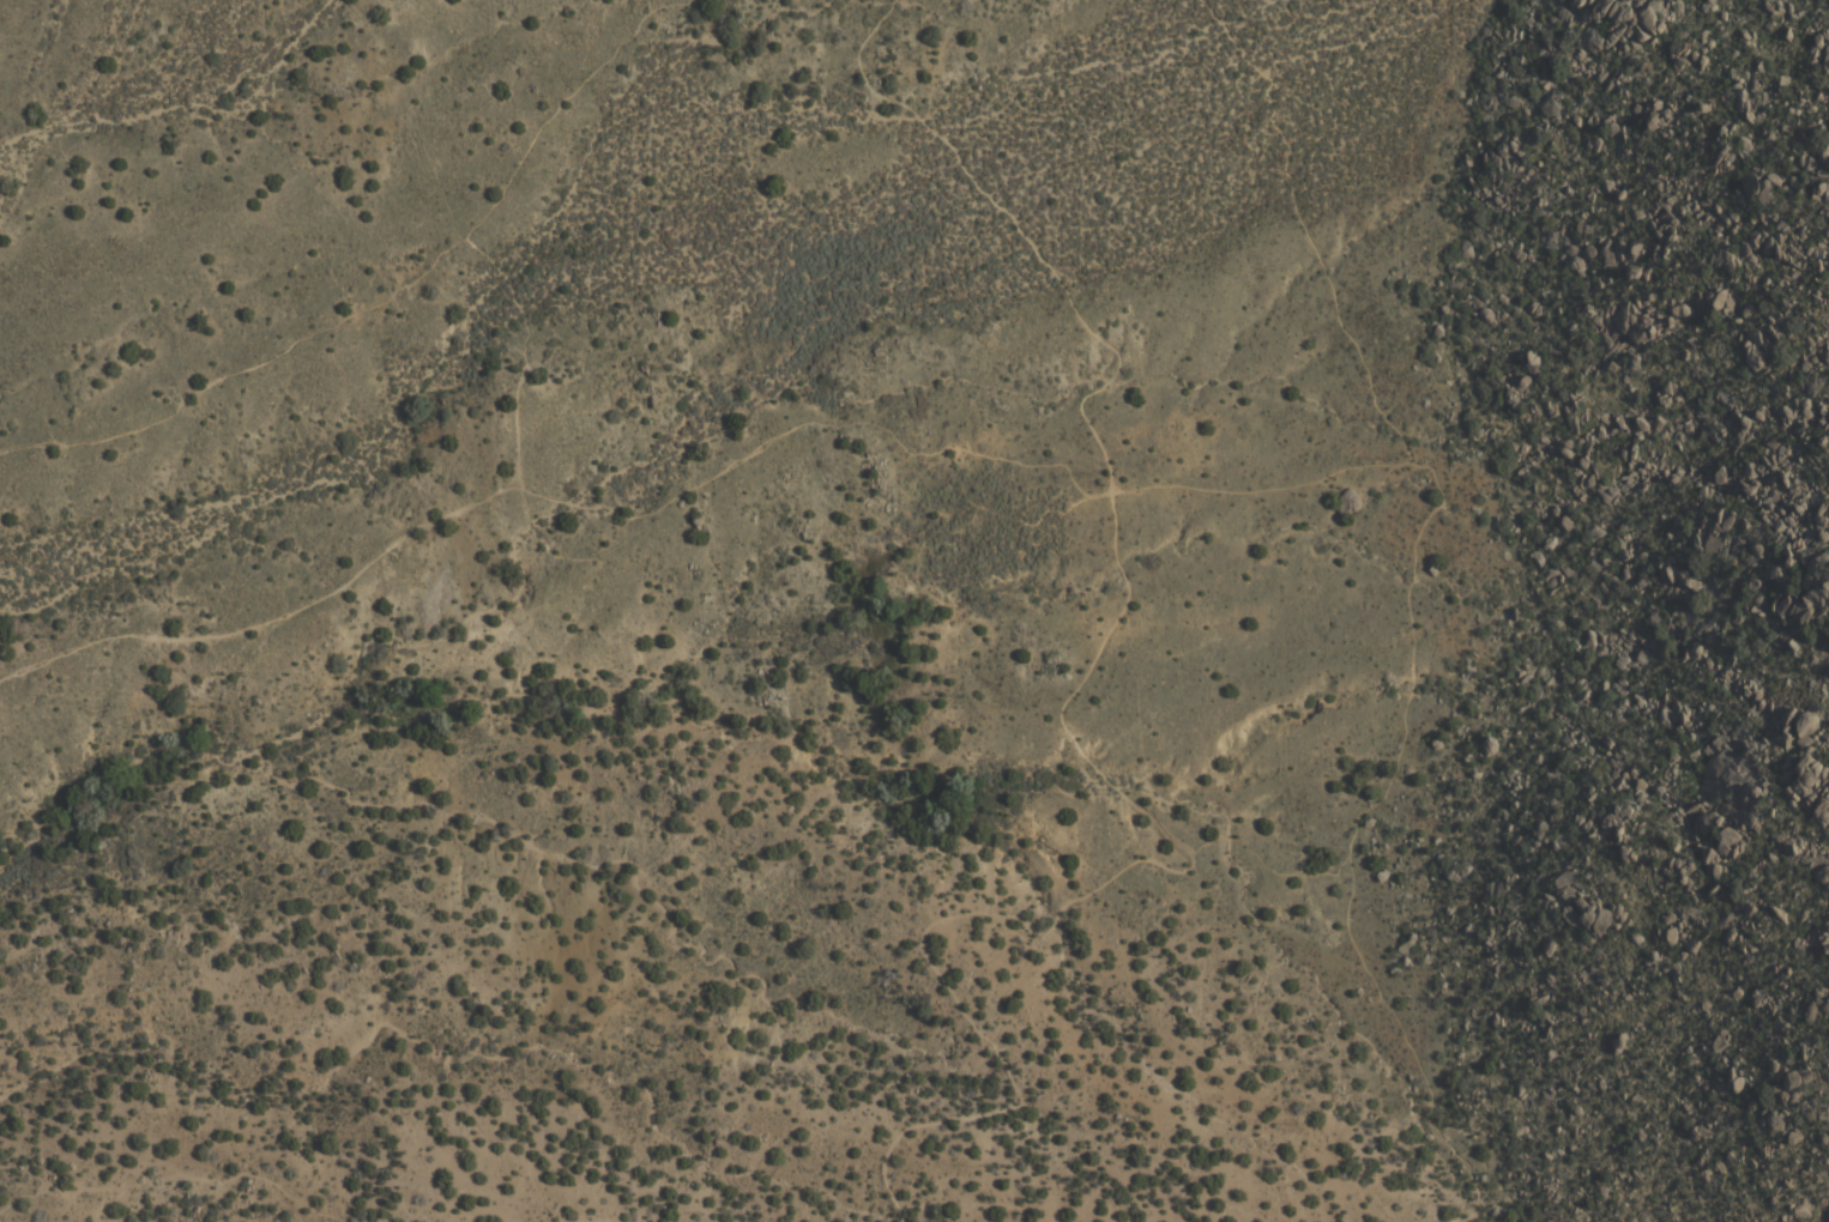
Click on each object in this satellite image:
road: (378, 297)
road: (523, 357)
road: (707, 476)
road: (1412, 609)
road: (1083, 742)
road: (580, 1212)

